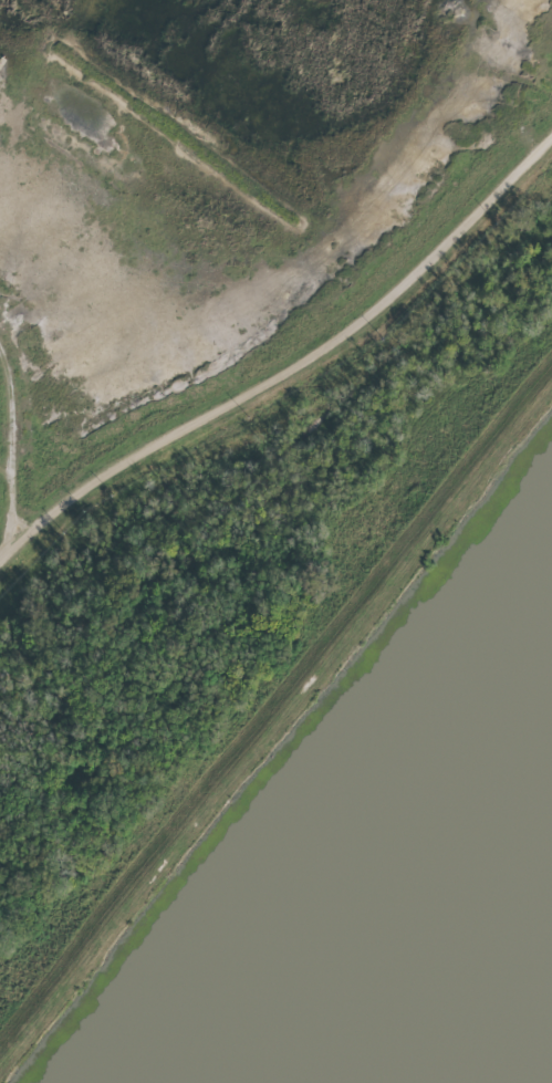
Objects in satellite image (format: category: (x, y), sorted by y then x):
road: (292, 369)
road: (8, 511)
road: (275, 742)

